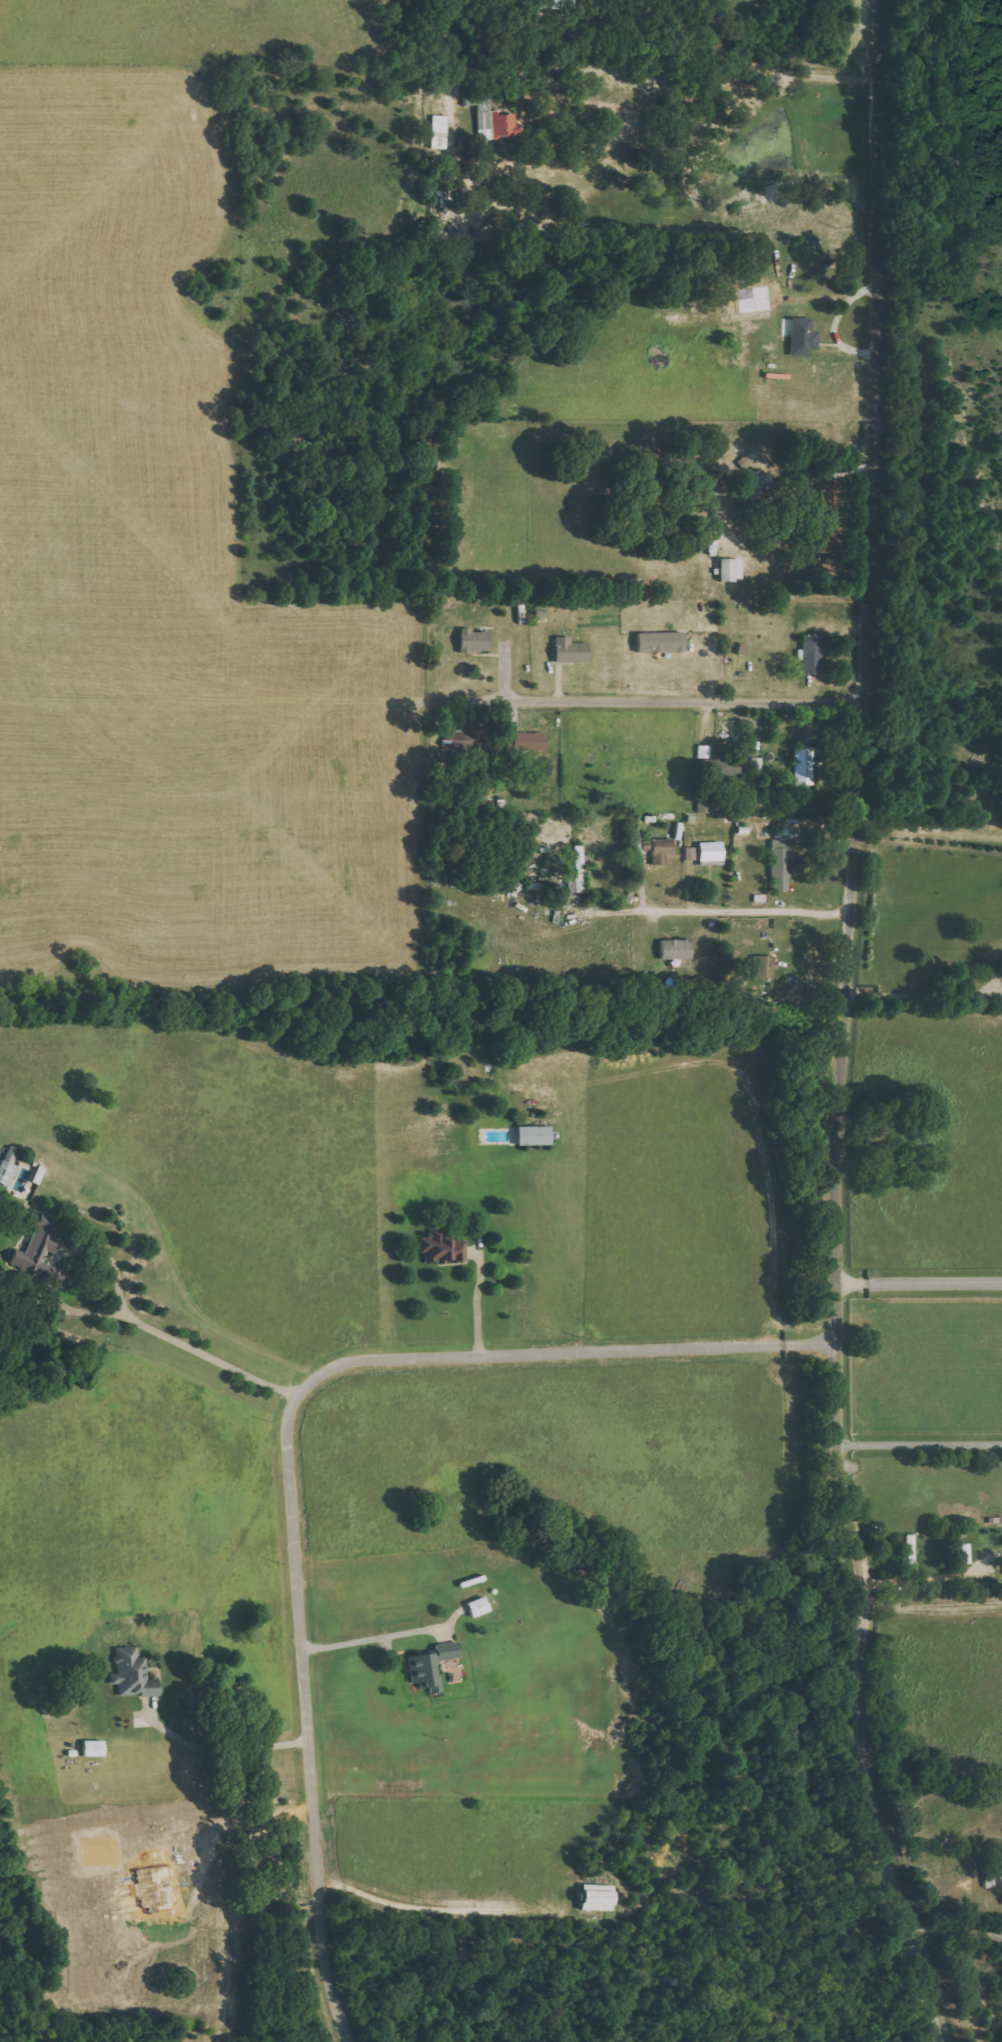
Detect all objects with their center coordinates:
building: (495, 123)
building: (439, 132)
building: (803, 337)
building: (731, 569)
building: (474, 641)
building: (661, 642)
building: (570, 651)
building: (811, 654)
building: (526, 741)
building: (757, 764)
building: (738, 766)
building: (804, 767)
building: (704, 806)
road: (416, 810)
building: (659, 850)
building: (711, 851)
building: (691, 853)
building: (781, 866)
building: (577, 872)
building: (676, 949)
building: (765, 967)
road: (842, 1028)
building: (534, 1136)
building: (7, 1173)
building: (442, 1248)
building: (38, 1249)
road: (918, 1282)
road: (287, 1444)
road: (919, 1444)
building: (910, 1549)
building: (966, 1553)
building: (431, 1665)
building: (132, 1673)
building: (597, 1897)

